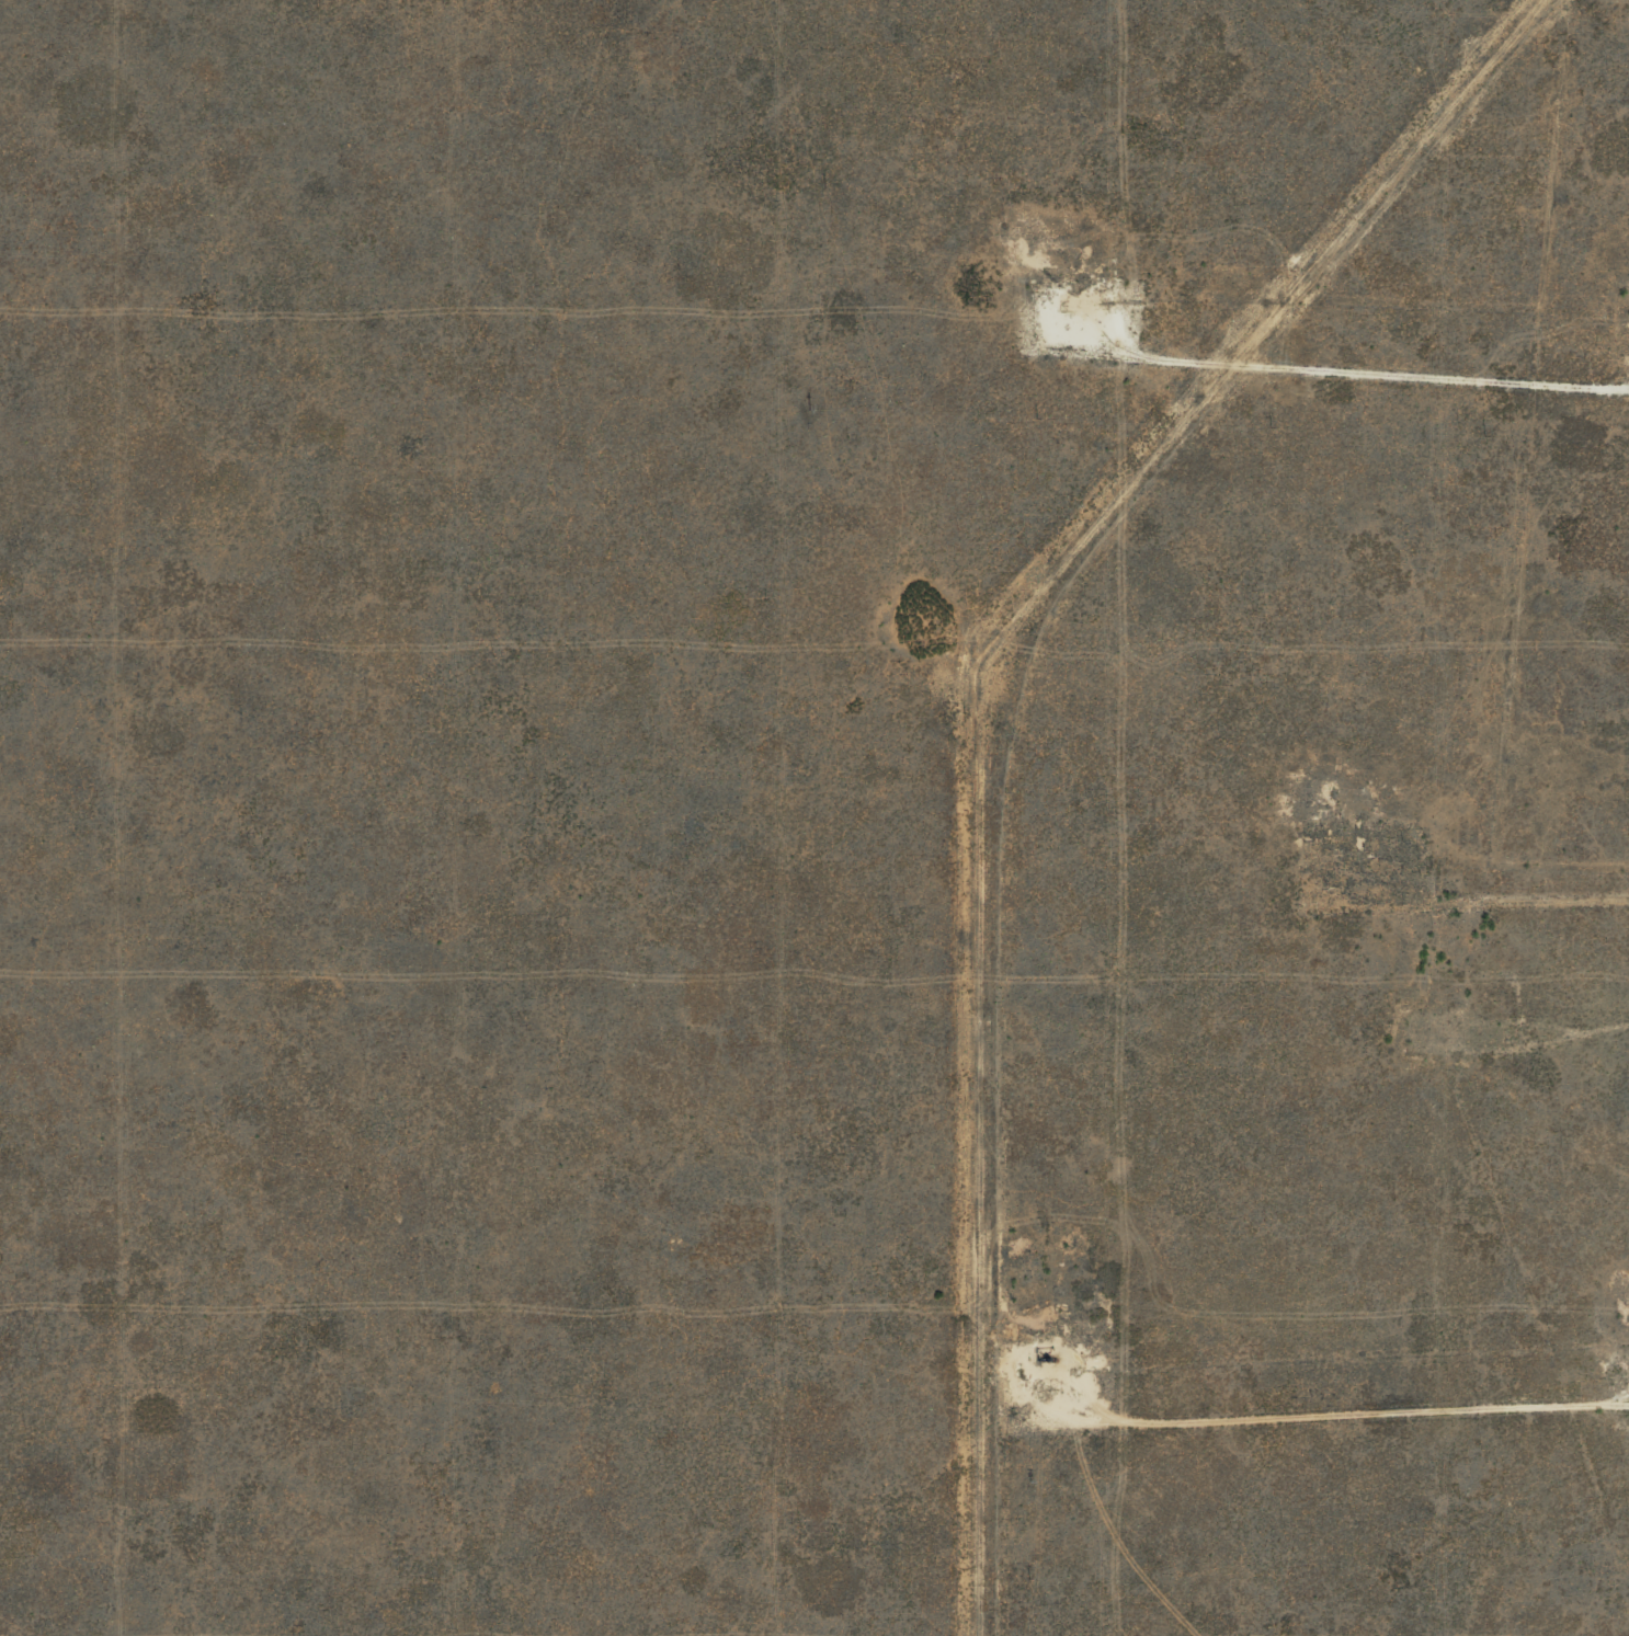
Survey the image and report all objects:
road: (1311, 1450)

